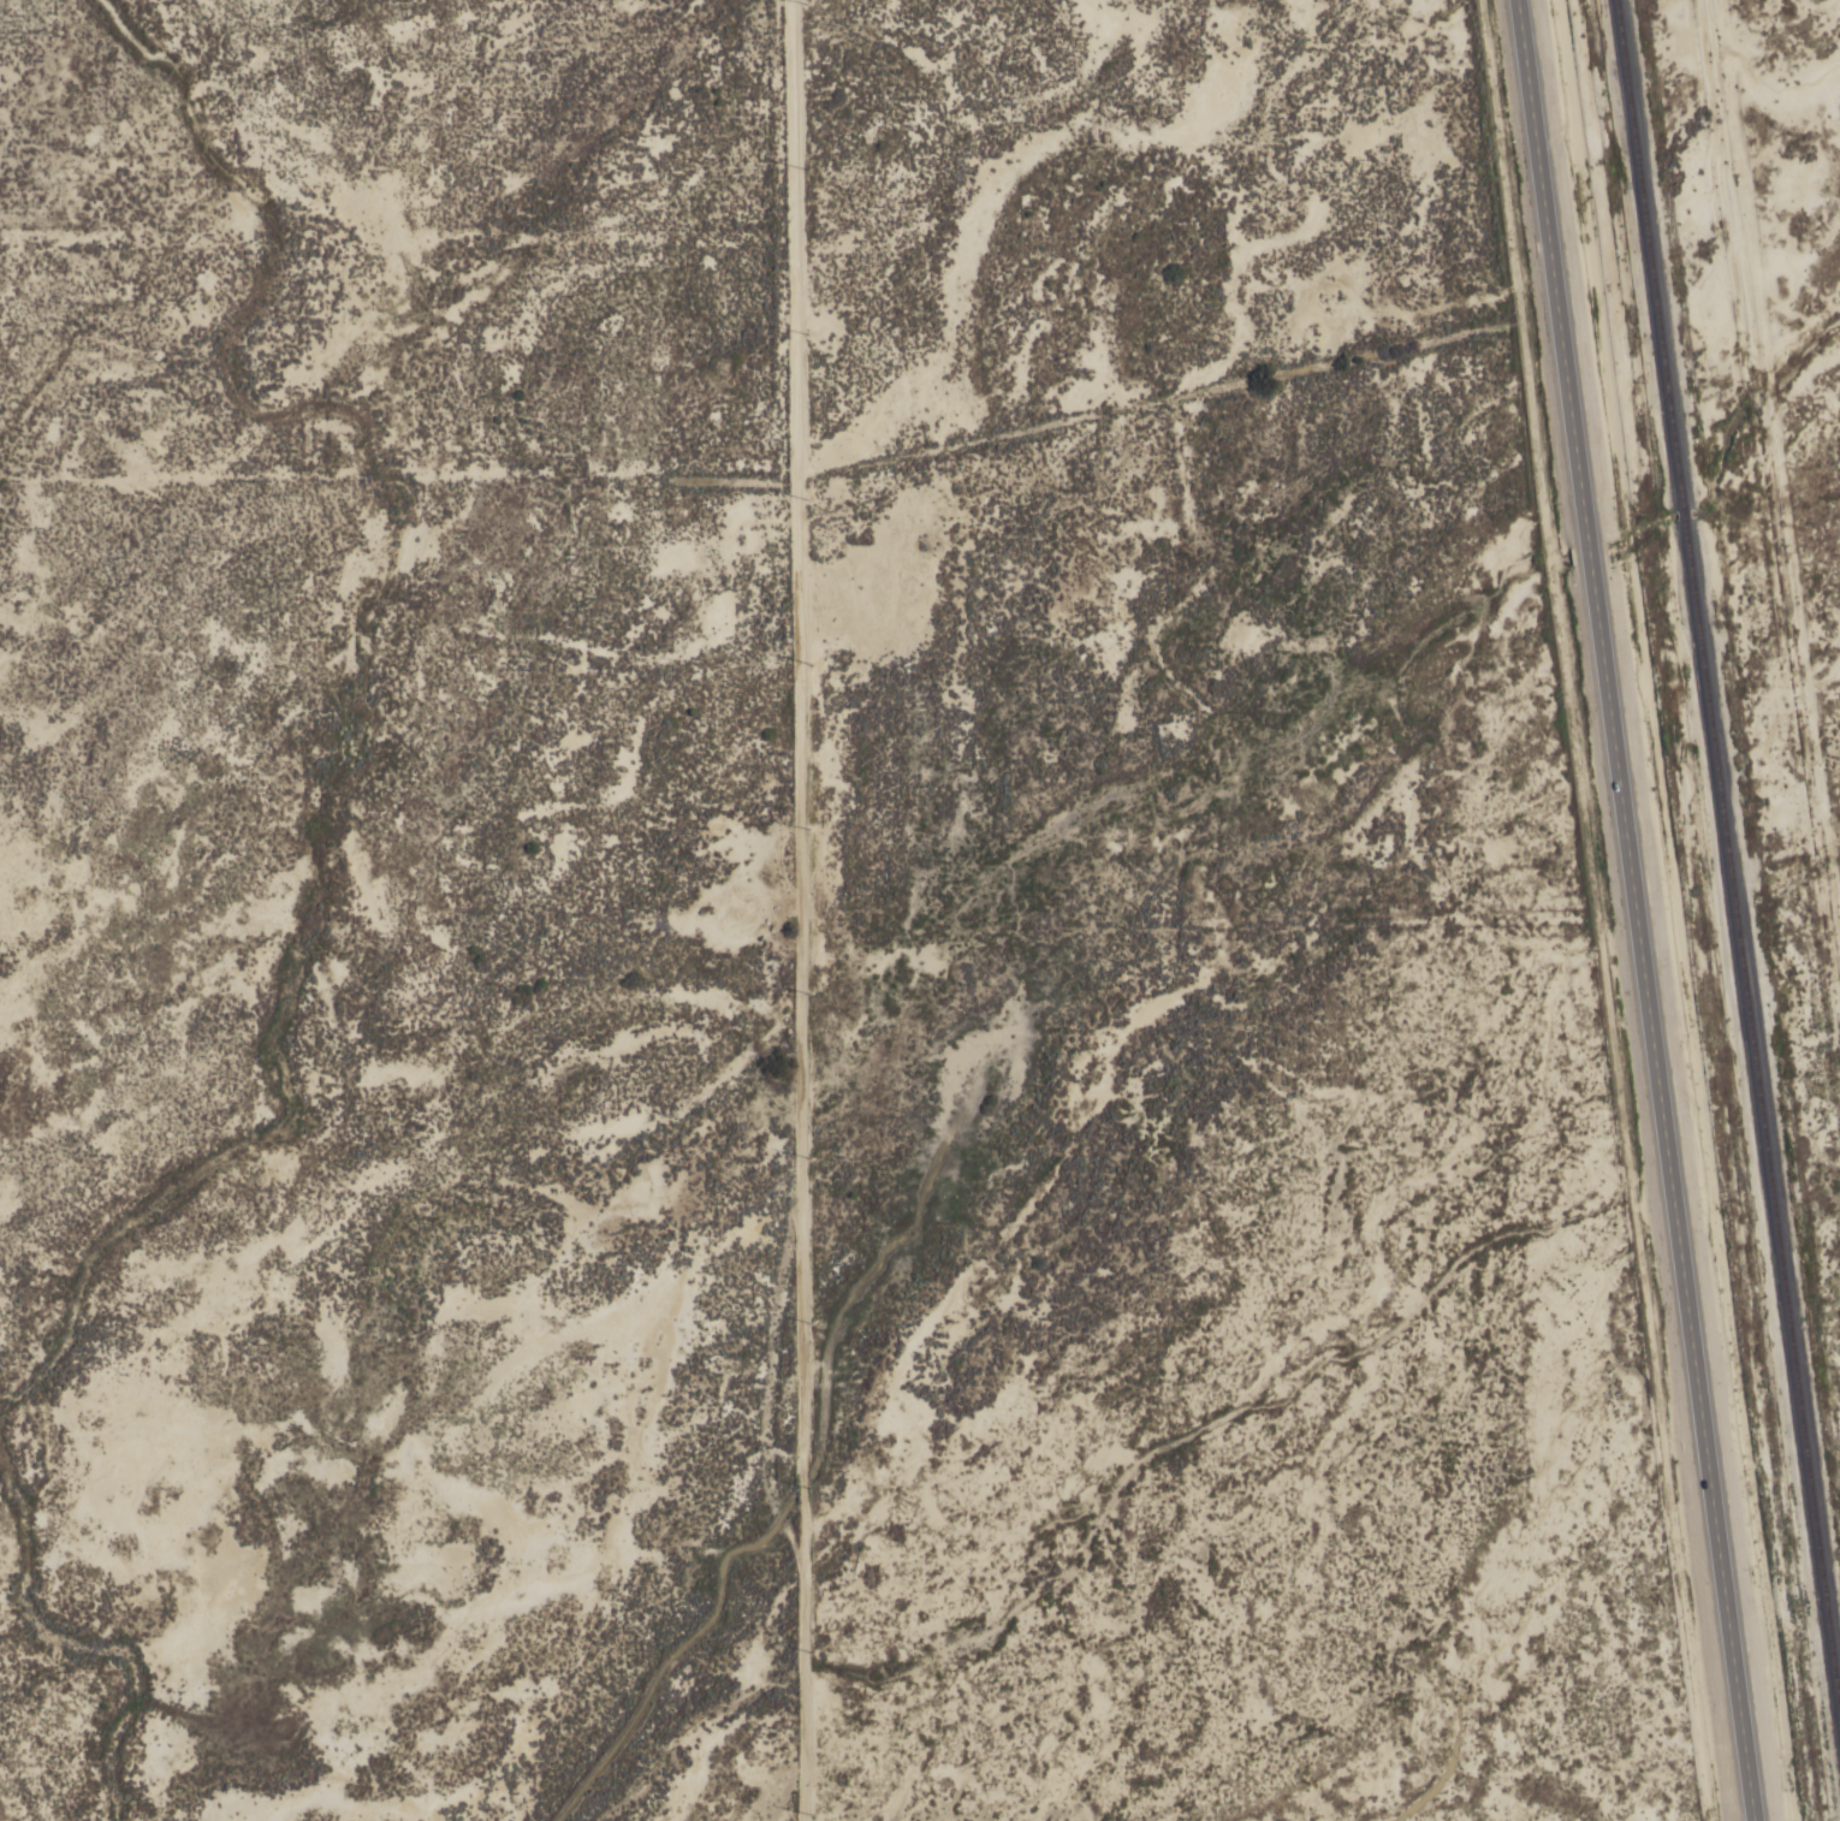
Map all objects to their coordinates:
road: (1769, 480)
railway: (1727, 859)
road: (790, 910)
road: (1638, 910)

